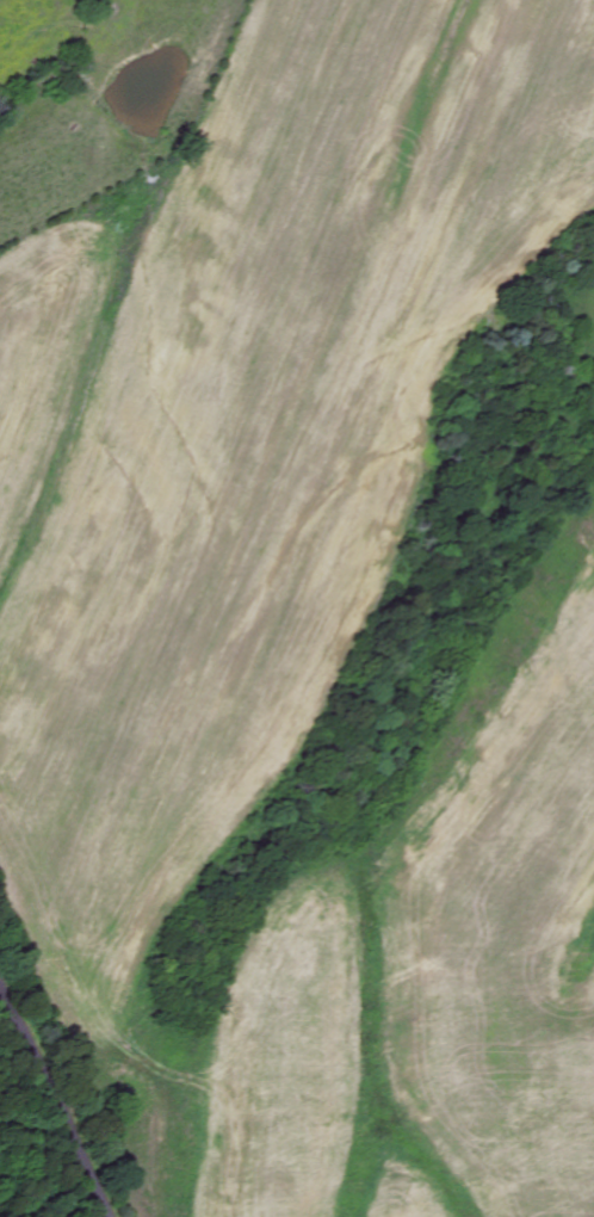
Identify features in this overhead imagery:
road: (55, 1101)

